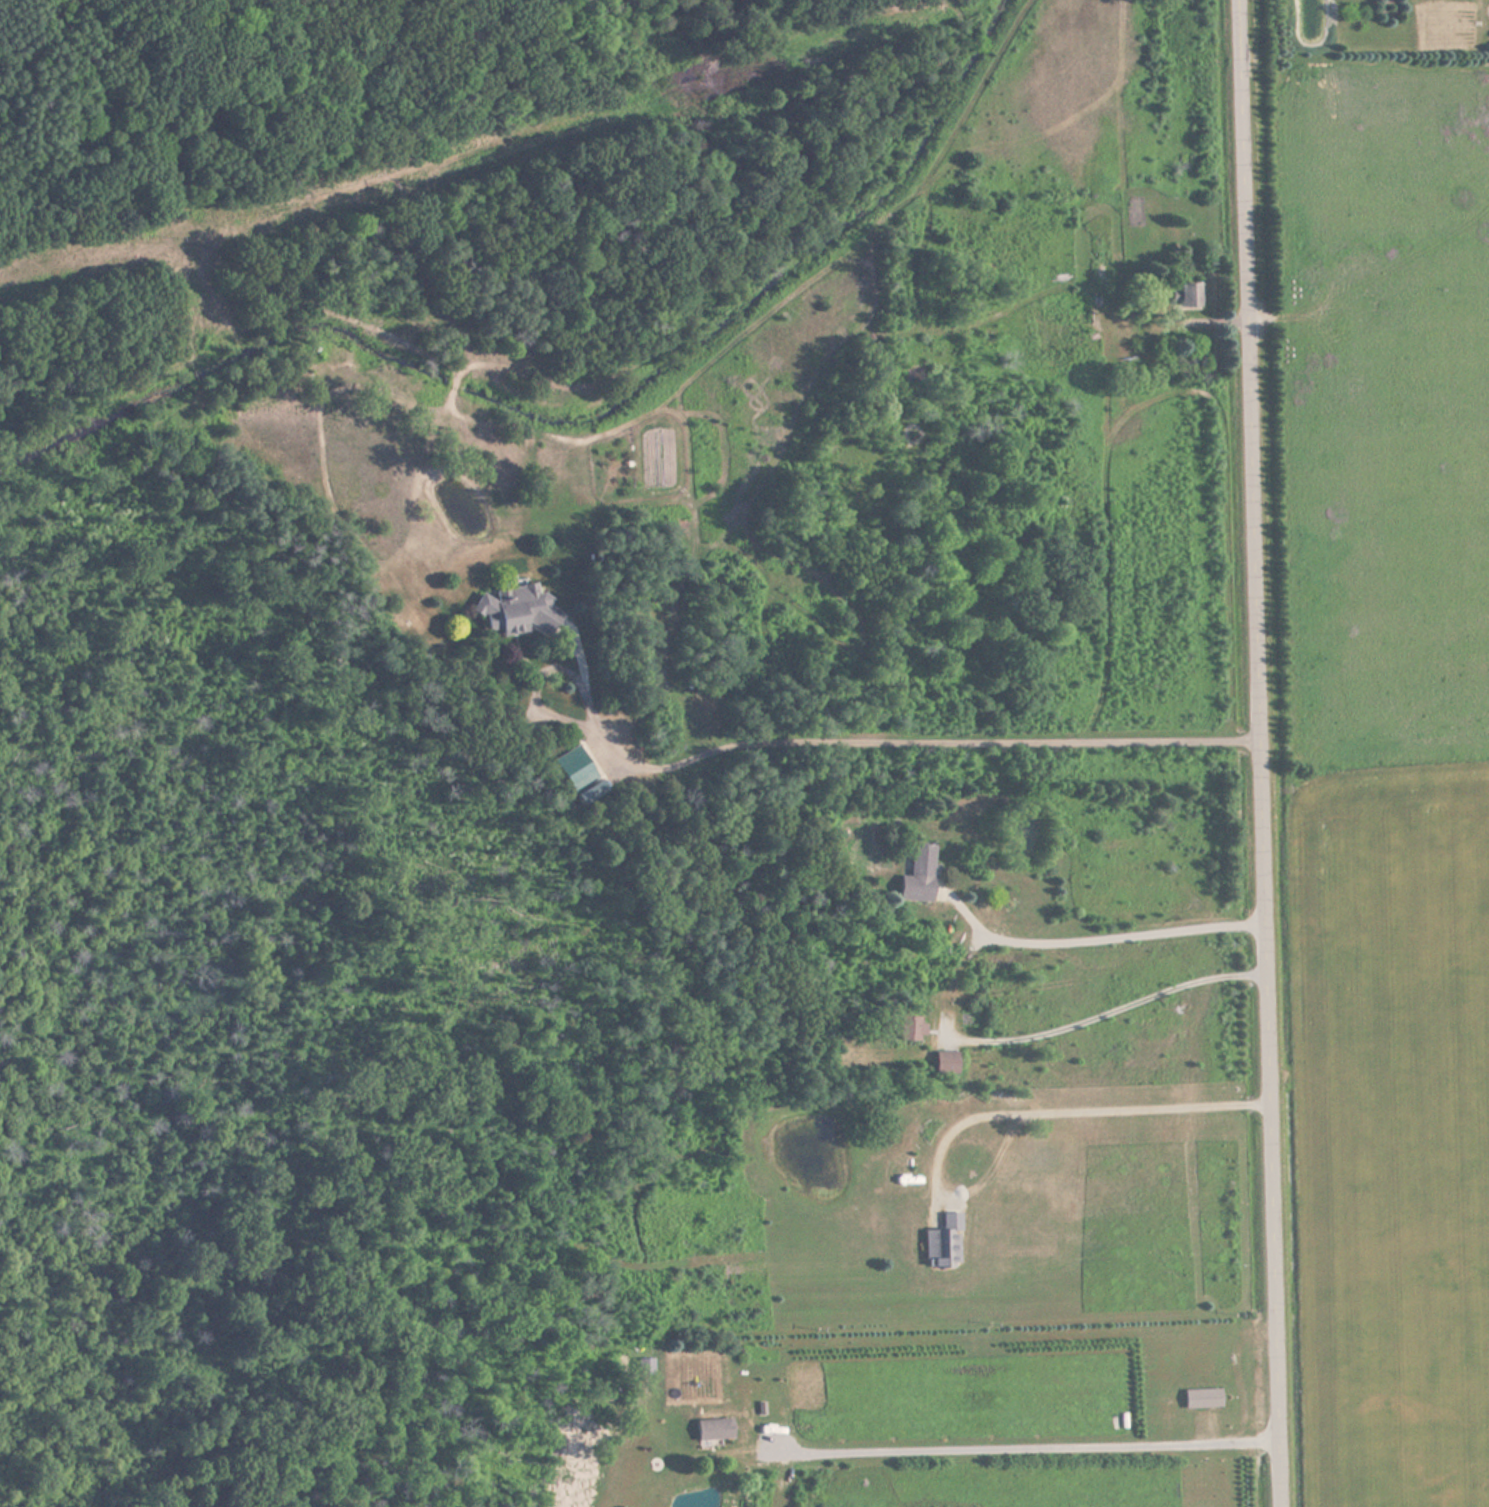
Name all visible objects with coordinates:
building: (1189, 296)
building: (517, 612)
road: (893, 743)
road: (1255, 753)
building: (572, 767)
building: (918, 875)
building: (911, 1028)
building: (947, 1063)
building: (946, 1242)
building: (1202, 1399)
building: (714, 1430)
building: (632, 1439)
road: (1016, 1450)

